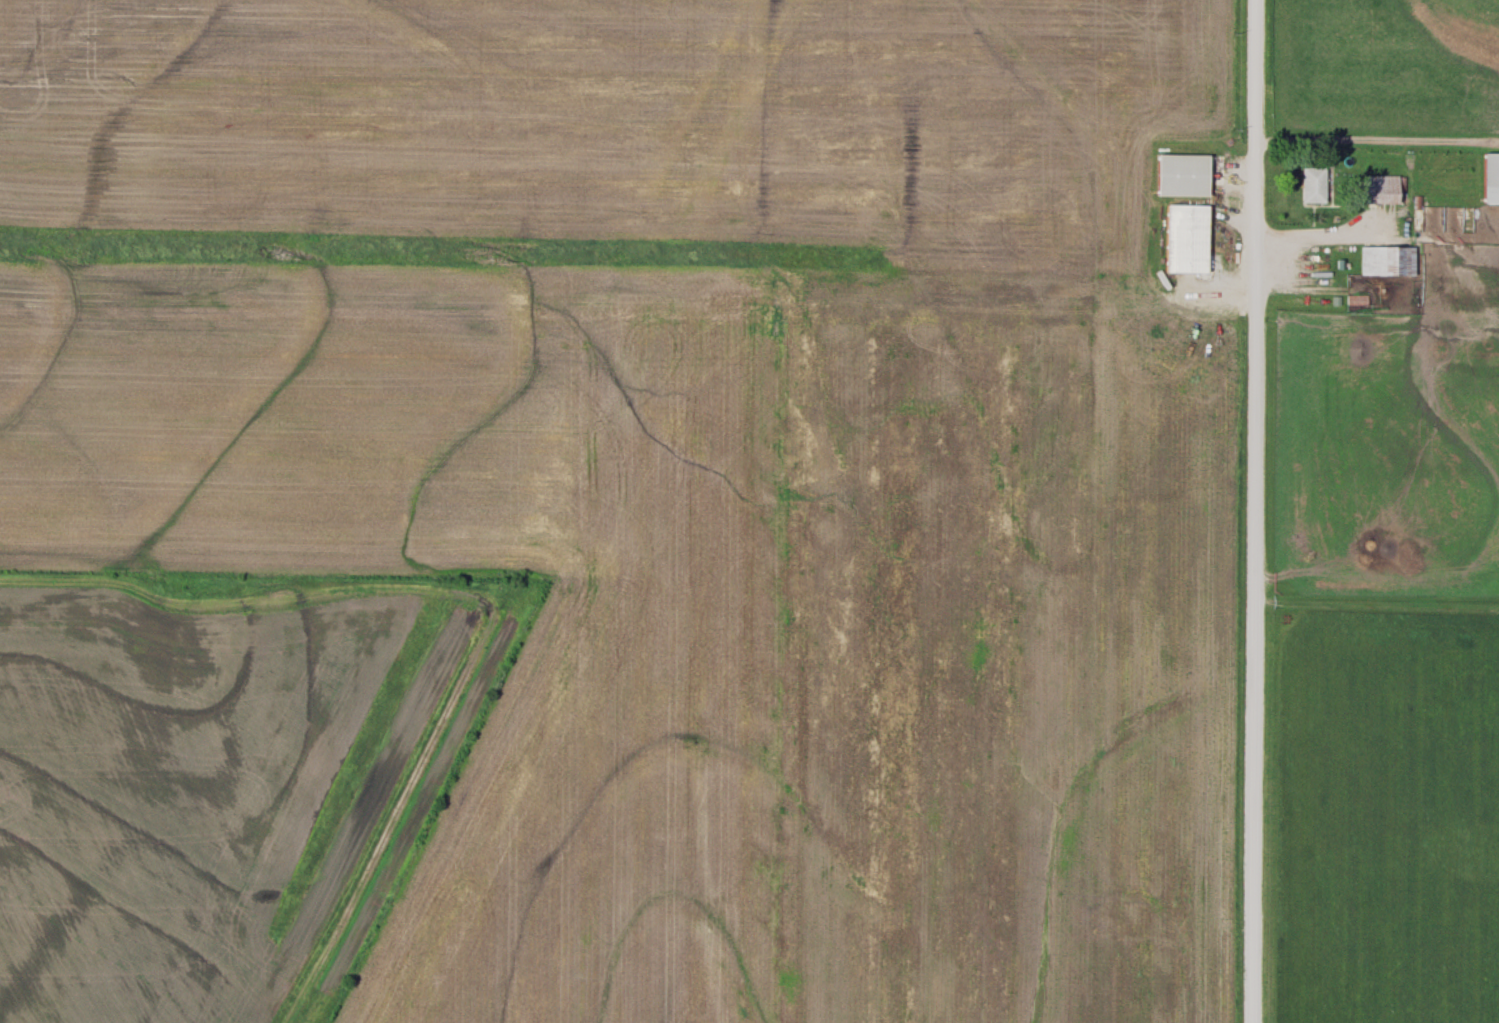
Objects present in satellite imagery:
building: (1184, 176)
building: (1491, 179)
building: (1314, 186)
building: (1382, 191)
building: (1186, 241)
building: (1388, 262)
crop: (693, 470)
road: (1254, 511)
crop: (1384, 809)

